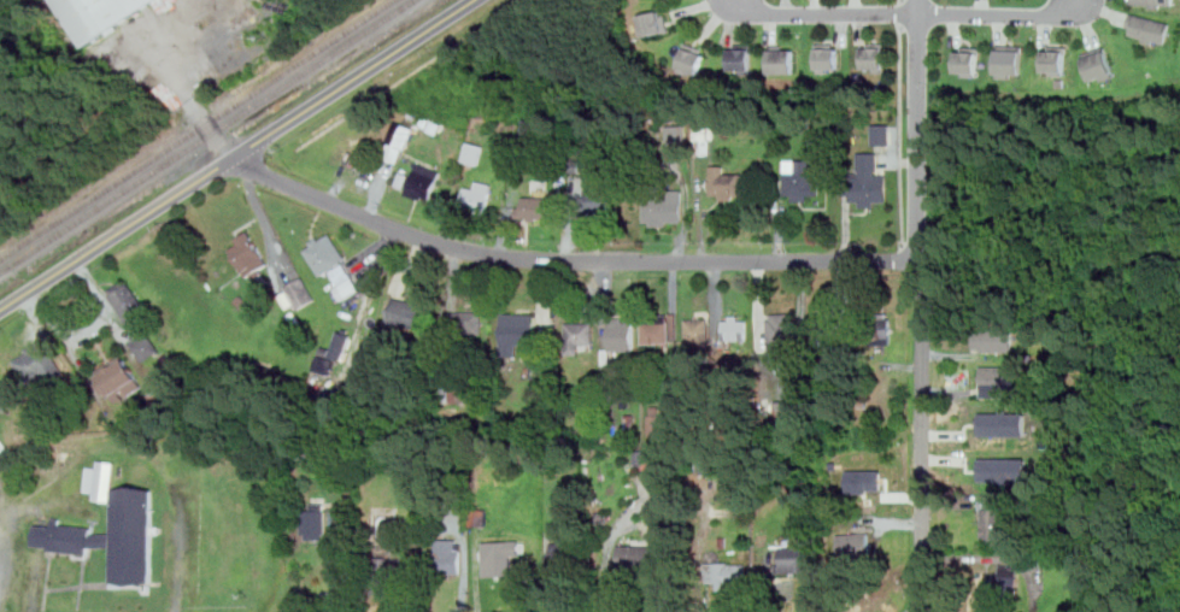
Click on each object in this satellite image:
road: (905, 0)
building: (1153, 4)
road: (905, 12)
building: (99, 14)
road: (908, 17)
building: (653, 23)
building: (1150, 29)
building: (875, 55)
building: (739, 57)
building: (828, 58)
building: (691, 59)
building: (779, 59)
building: (969, 60)
building: (1011, 60)
building: (1057, 60)
building: (1099, 64)
road: (405, 77)
road: (194, 98)
railway: (199, 133)
building: (881, 133)
building: (676, 134)
road: (904, 135)
railway: (209, 139)
building: (398, 142)
building: (474, 153)
road: (240, 154)
building: (803, 178)
building: (423, 180)
building: (868, 180)
building: (726, 183)
building: (477, 195)
building: (599, 204)
building: (539, 207)
building: (664, 208)
road: (905, 253)
building: (249, 255)
road: (569, 258)
building: (331, 263)
building: (300, 292)
building: (129, 301)
road: (921, 305)
building: (411, 313)
building: (463, 322)
building: (736, 326)
building: (519, 329)
building: (659, 329)
building: (827, 329)
building: (881, 330)
building: (781, 331)
building: (581, 333)
building: (699, 333)
building: (622, 335)
building: (994, 340)
building: (341, 342)
building: (146, 346)
building: (37, 363)
building: (119, 377)
building: (998, 381)
building: (783, 396)
building: (1, 402)
building: (0, 405)
building: (1004, 424)
building: (654, 425)
building: (645, 459)
building: (706, 463)
building: (1005, 469)
building: (864, 481)
building: (564, 501)
building: (316, 522)
building: (134, 523)
building: (993, 525)
building: (855, 546)
building: (560, 554)
building: (450, 555)
building: (499, 557)
building: (796, 558)
building: (641, 559)
building: (388, 575)
building: (726, 575)
building: (1004, 578)

